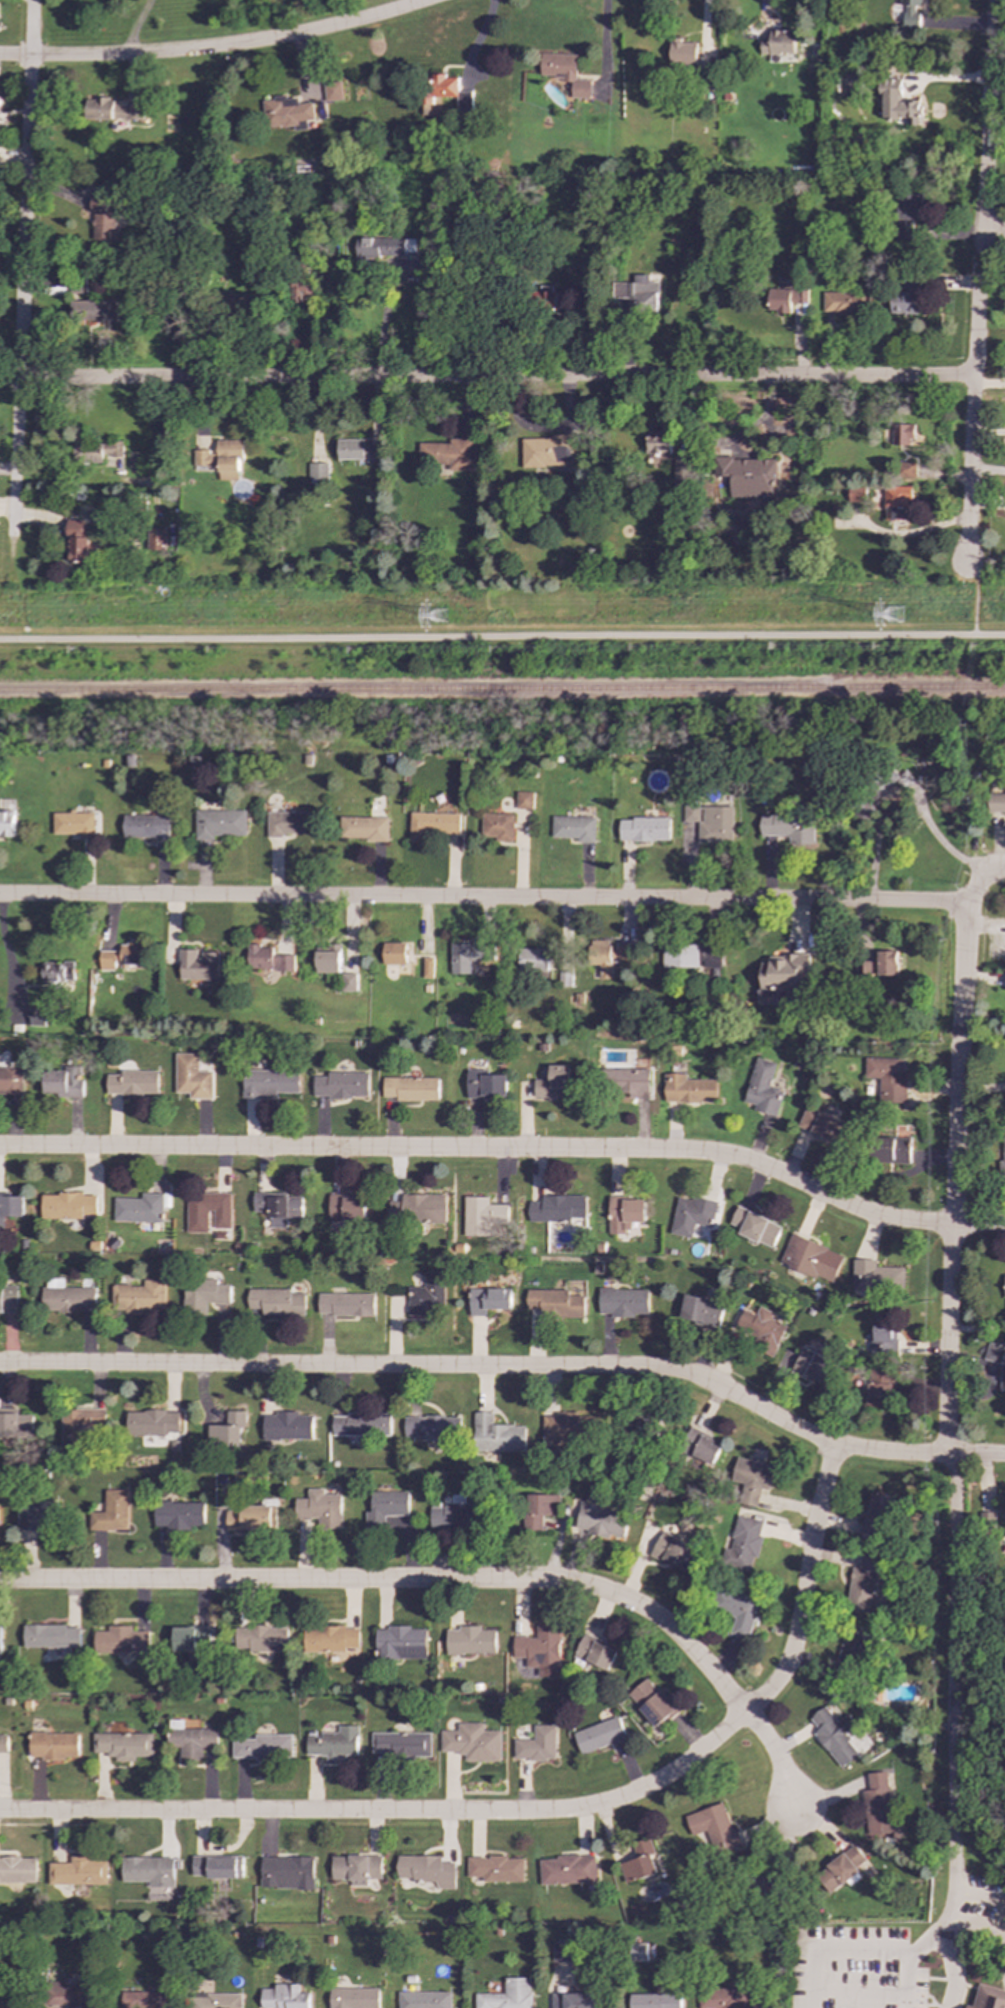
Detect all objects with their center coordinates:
building: (910, 2)
building: (907, 16)
road: (606, 40)
building: (778, 42)
road: (218, 47)
building: (683, 53)
building: (564, 72)
building: (849, 84)
building: (332, 91)
building: (437, 92)
building: (463, 101)
building: (897, 103)
building: (115, 110)
building: (286, 111)
road: (25, 188)
building: (906, 215)
building: (103, 218)
road: (993, 234)
building: (382, 248)
road: (978, 277)
building: (302, 288)
building: (634, 295)
building: (784, 299)
building: (907, 299)
building: (845, 303)
building: (238, 305)
building: (93, 311)
road: (385, 323)
road: (486, 377)
building: (901, 434)
building: (658, 446)
building: (355, 450)
building: (548, 450)
building: (98, 451)
building: (449, 454)
road: (17, 457)
building: (222, 459)
building: (136, 461)
building: (906, 469)
building: (683, 470)
building: (317, 471)
building: (749, 476)
building: (856, 493)
building: (896, 501)
building: (156, 539)
building: (78, 540)
road: (976, 594)
power tower: (443, 617)
power tower: (897, 617)
road: (502, 637)
railway: (502, 690)
road: (904, 789)
building: (524, 800)
building: (996, 803)
building: (710, 822)
building: (6, 823)
building: (73, 823)
building: (220, 823)
building: (286, 823)
building: (434, 824)
building: (788, 826)
building: (146, 827)
building: (498, 827)
building: (363, 828)
building: (574, 828)
building: (644, 829)
road: (980, 880)
road: (484, 897)
building: (624, 952)
building: (394, 953)
building: (470, 955)
building: (123, 956)
building: (601, 956)
building: (692, 956)
building: (266, 959)
building: (328, 959)
building: (534, 960)
building: (886, 962)
building: (198, 965)
building: (428, 967)
building: (863, 969)
building: (57, 972)
building: (782, 976)
building: (348, 982)
building: (37, 1017)
building: (193, 1077)
building: (887, 1077)
building: (63, 1082)
building: (627, 1082)
building: (11, 1083)
building: (132, 1083)
building: (269, 1083)
building: (554, 1083)
building: (342, 1084)
building: (486, 1084)
building: (412, 1088)
building: (763, 1088)
building: (689, 1089)
building: (822, 1125)
road: (508, 1149)
building: (893, 1150)
building: (67, 1205)
building: (10, 1207)
building: (279, 1207)
building: (141, 1208)
building: (347, 1208)
building: (417, 1208)
building: (557, 1208)
building: (625, 1213)
building: (482, 1215)
building: (692, 1215)
building: (197, 1219)
building: (755, 1227)
building: (811, 1258)
building: (876, 1277)
building: (204, 1294)
building: (428, 1295)
building: (8, 1298)
building: (68, 1299)
building: (489, 1300)
building: (277, 1302)
building: (624, 1302)
building: (556, 1303)
building: (347, 1304)
building: (701, 1310)
building: (760, 1329)
building: (880, 1337)
building: (993, 1353)
road: (511, 1367)
building: (814, 1367)
building: (1002, 1377)
building: (880, 1388)
road: (947, 1391)
building: (153, 1422)
building: (79, 1423)
building: (362, 1424)
building: (16, 1425)
building: (288, 1426)
building: (646, 1426)
building: (432, 1427)
building: (562, 1429)
building: (228, 1430)
building: (497, 1435)
building: (701, 1446)
building: (751, 1479)
building: (386, 1507)
building: (320, 1508)
building: (539, 1509)
building: (112, 1512)
building: (37, 1513)
building: (179, 1514)
building: (455, 1514)
building: (878, 1517)
building: (251, 1518)
building: (602, 1521)
building: (744, 1541)
building: (673, 1551)
road: (398, 1581)
building: (862, 1585)
building: (739, 1612)
building: (52, 1636)
building: (191, 1638)
building: (330, 1638)
building: (261, 1639)
building: (0, 1640)
building: (121, 1640)
building: (470, 1640)
building: (400, 1643)
building: (540, 1651)
building: (854, 1651)
building: (596, 1652)
building: (653, 1702)
building: (600, 1735)
building: (834, 1735)
building: (191, 1741)
building: (472, 1742)
building: (3, 1743)
building: (334, 1743)
building: (401, 1744)
building: (537, 1744)
building: (53, 1745)
building: (122, 1745)
building: (262, 1747)
road: (780, 1760)
building: (877, 1804)
road: (532, 1812)
building: (714, 1827)
building: (639, 1862)
building: (216, 1867)
building: (496, 1868)
building: (840, 1868)
building: (355, 1869)
building: (567, 1869)
building: (17, 1870)
building: (148, 1870)
building: (426, 1870)
building: (77, 1872)
building: (286, 1872)
road: (977, 1899)
road: (941, 1921)
road: (976, 1924)
building: (563, 1951)
park: (904, 1951)
building: (638, 1952)
road: (833, 1953)
road: (951, 1964)
parking lot: (855, 1969)
road: (906, 1980)
building: (70, 1995)
building: (507, 1995)
building: (285, 1997)
building: (355, 1997)
building: (725, 1998)
building: (988, 1998)
building: (146, 1999)
building: (424, 1999)
building: (575, 2000)
building: (655, 2000)
building: (10, 2001)
building: (219, 2001)

